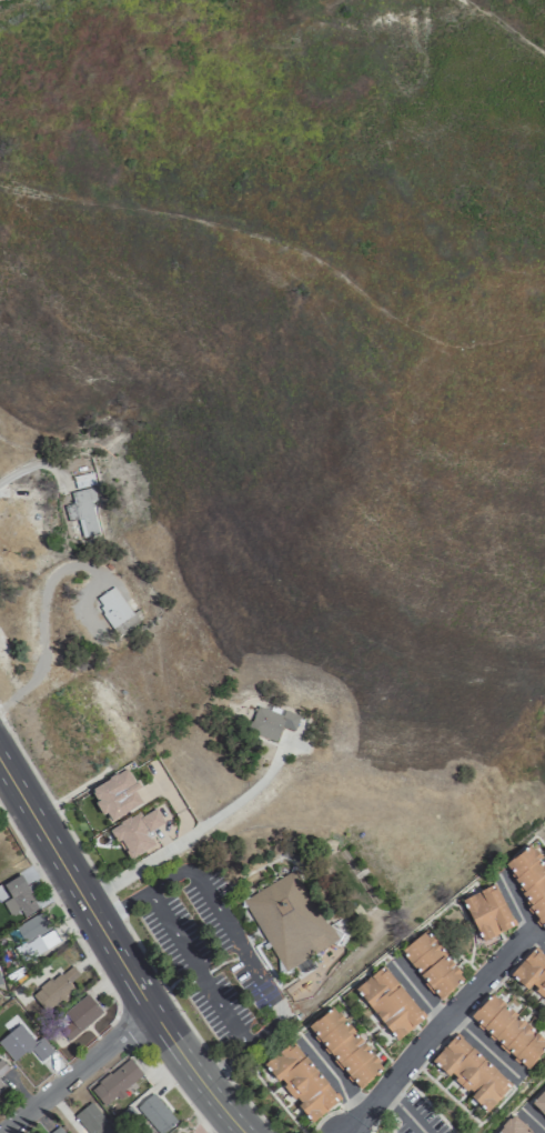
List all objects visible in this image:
road: (504, 24)
road: (285, 244)
road: (24, 467)
building: (21, 509)
building: (82, 511)
building: (114, 610)
road: (40, 621)
building: (102, 712)
building: (271, 722)
building: (115, 795)
road: (184, 826)
road: (194, 831)
building: (137, 833)
building: (527, 880)
building: (19, 898)
building: (488, 912)
road: (518, 912)
building: (290, 920)
building: (33, 936)
road: (238, 944)
road: (117, 950)
building: (433, 964)
road: (196, 970)
building: (533, 972)
building: (55, 989)
road: (417, 994)
building: (390, 1003)
building: (80, 1015)
road: (434, 1030)
building: (509, 1030)
building: (22, 1044)
building: (346, 1047)
road: (484, 1049)
building: (2, 1066)
road: (77, 1071)
building: (471, 1072)
road: (334, 1074)
building: (117, 1081)
building: (302, 1082)
building: (1, 1087)
building: (539, 1102)
road: (405, 1111)
building: (157, 1113)
building: (92, 1120)
building: (513, 1126)
building: (58, 1131)

